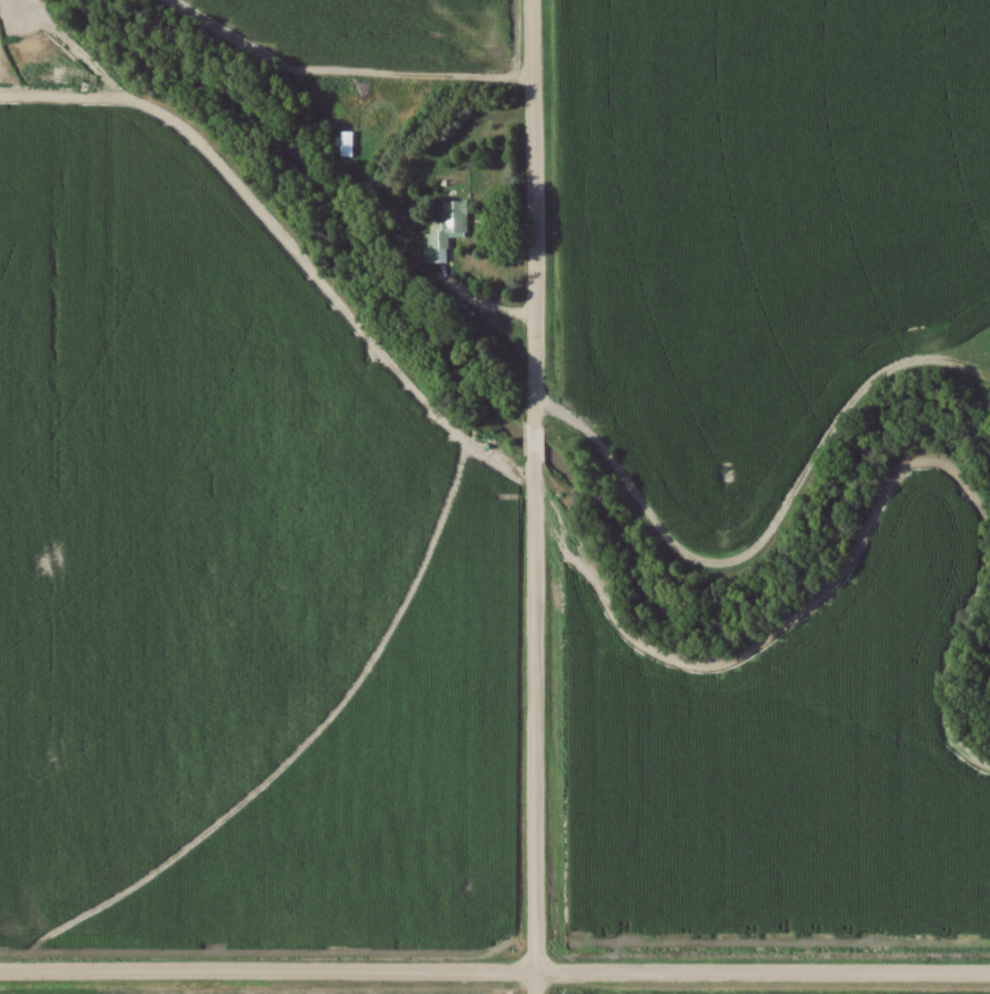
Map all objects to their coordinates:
road: (529, 212)
building: (445, 231)
road: (468, 304)
road: (530, 443)
road: (528, 726)
road: (495, 974)

